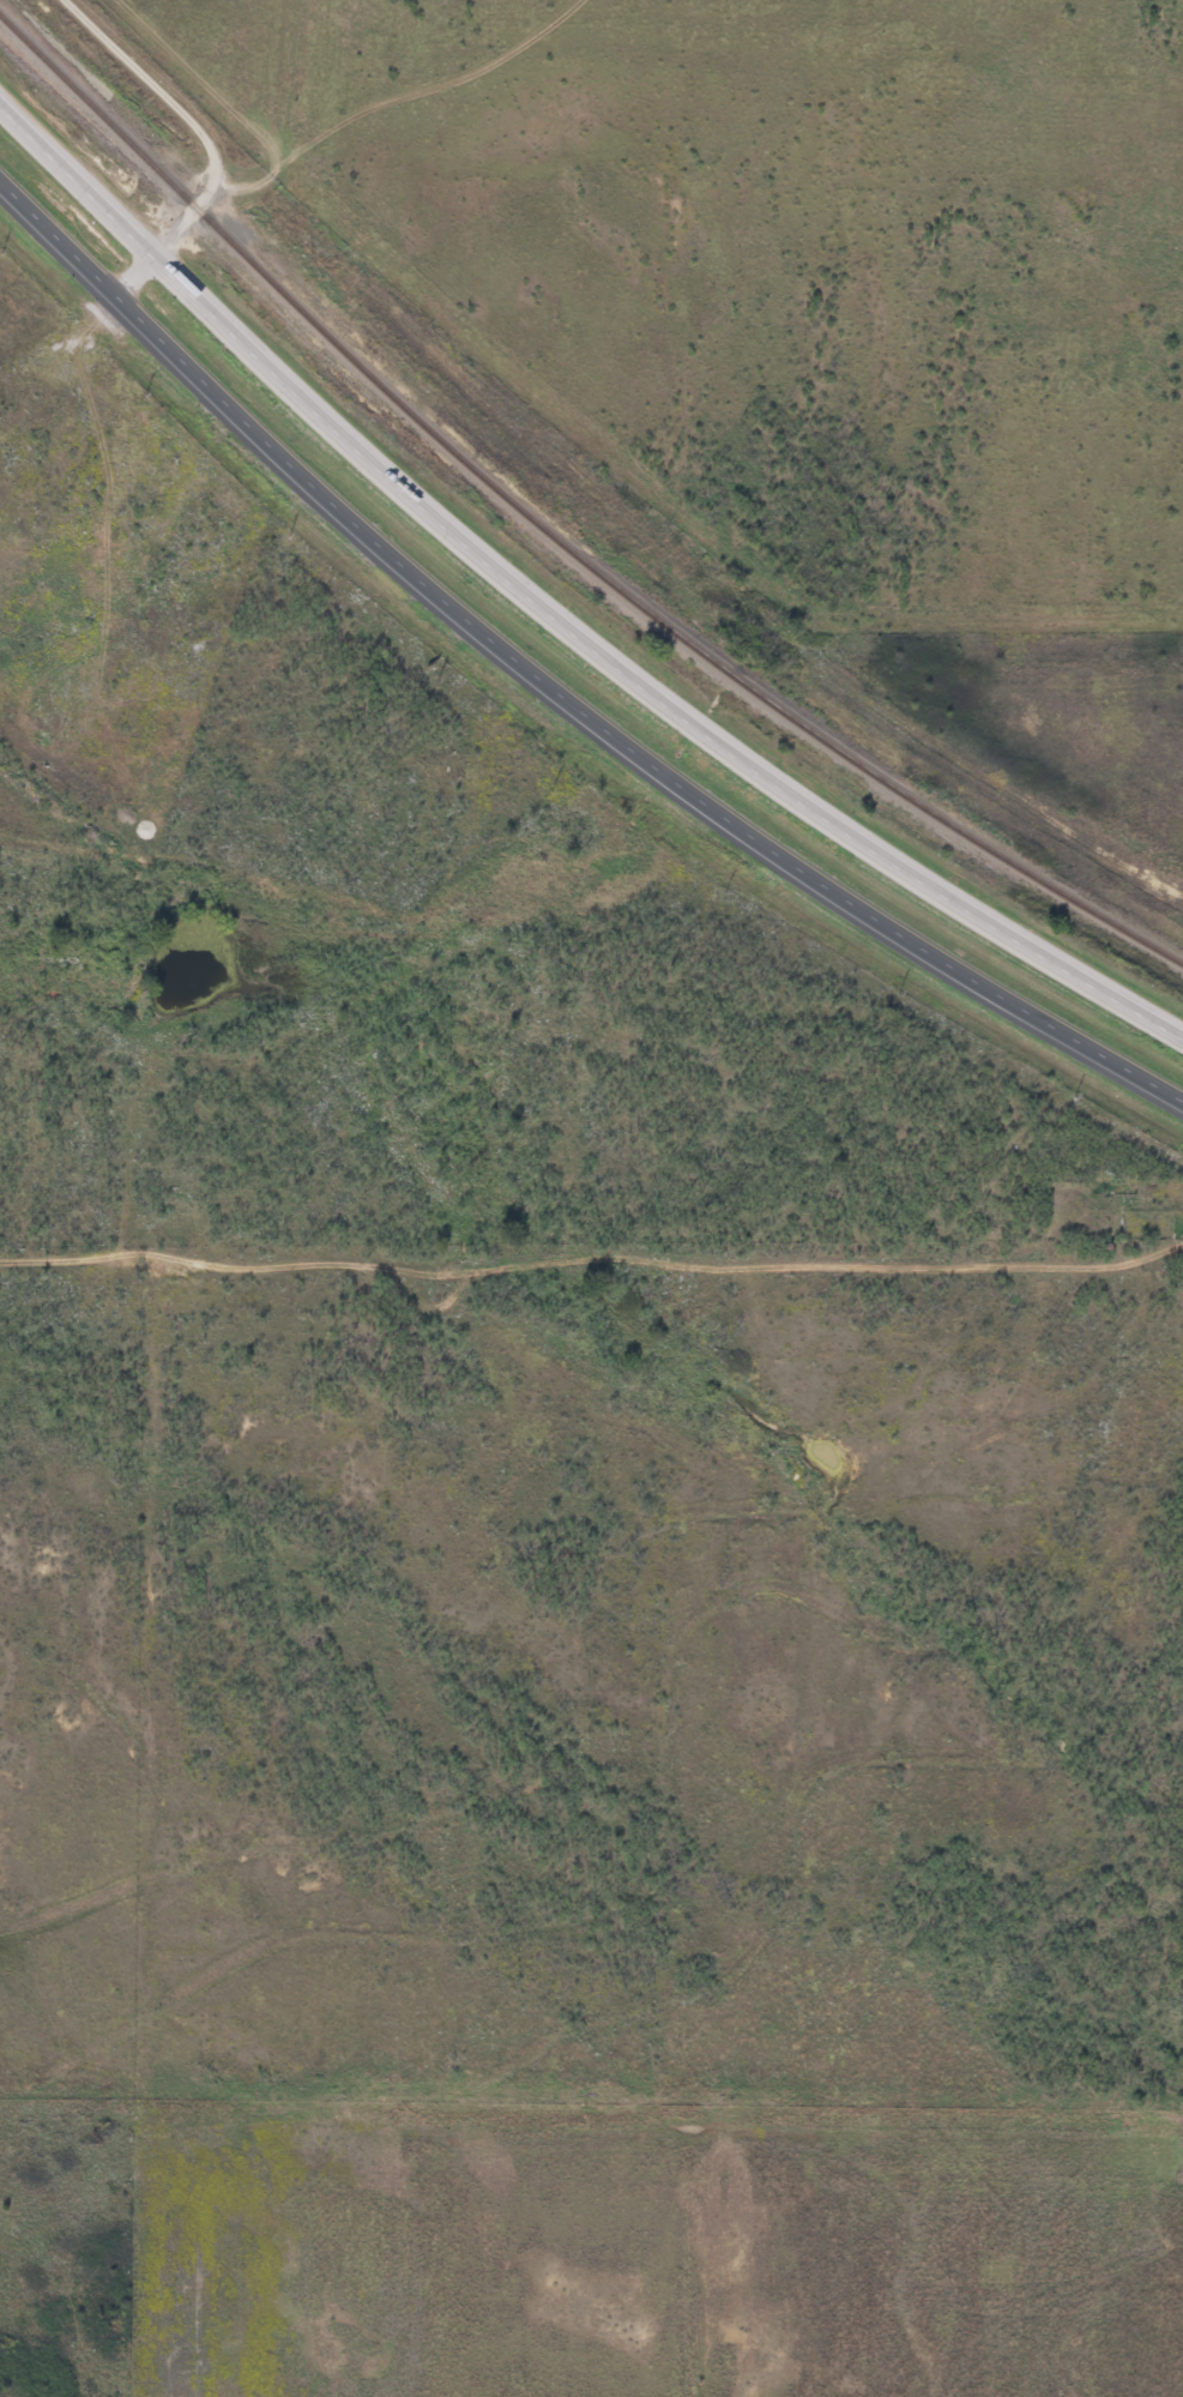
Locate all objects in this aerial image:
road: (210, 140)
building: (219, 315)
railway: (554, 536)
road: (555, 625)
road: (554, 692)
road: (723, 1077)
road: (463, 1203)

